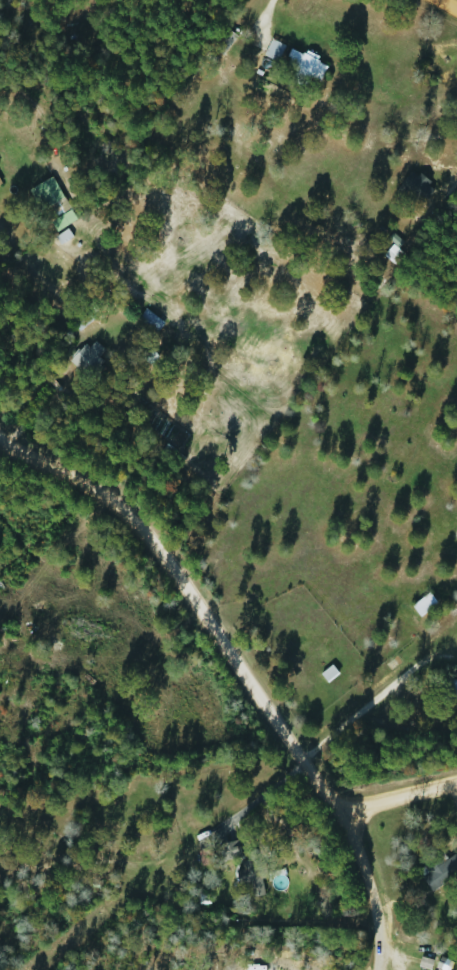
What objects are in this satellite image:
road: (445, 6)
building: (222, 46)
building: (272, 50)
building: (303, 68)
building: (415, 186)
building: (44, 194)
building: (391, 255)
building: (148, 320)
building: (86, 359)
road: (239, 669)
building: (448, 690)
road: (102, 701)
road: (400, 796)
building: (227, 850)
building: (202, 857)
building: (438, 871)
building: (250, 876)
building: (440, 966)

